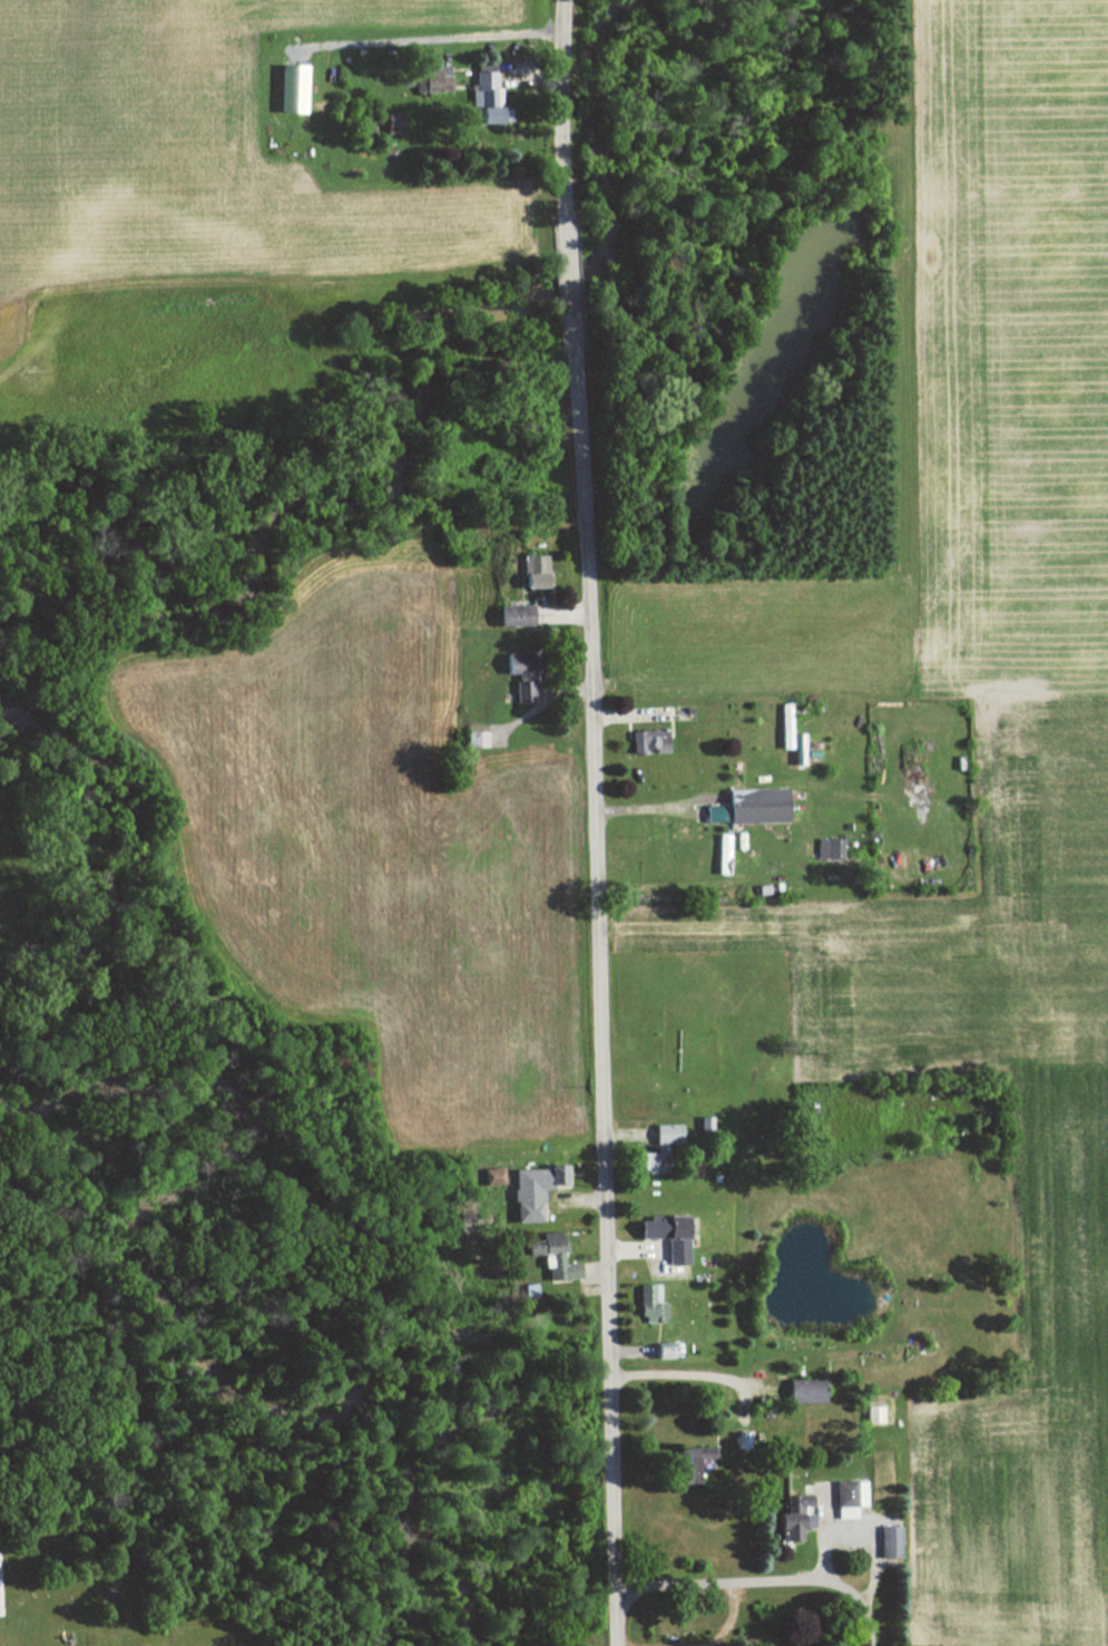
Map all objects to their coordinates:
crop: (1014, 45)
building: (433, 79)
building: (286, 87)
building: (484, 98)
building: (389, 124)
building: (529, 571)
building: (510, 615)
building: (513, 663)
building: (518, 691)
building: (645, 740)
building: (794, 749)
building: (752, 805)
crop: (973, 821)
road: (598, 822)
building: (825, 848)
building: (719, 854)
building: (655, 1150)
building: (490, 1176)
building: (529, 1191)
building: (663, 1236)
building: (549, 1259)
building: (647, 1304)
building: (660, 1351)
road: (693, 1375)
building: (801, 1391)
building: (870, 1415)
building: (688, 1464)
building: (845, 1498)
building: (791, 1519)
building: (885, 1541)
road: (870, 1576)
road: (763, 1581)

